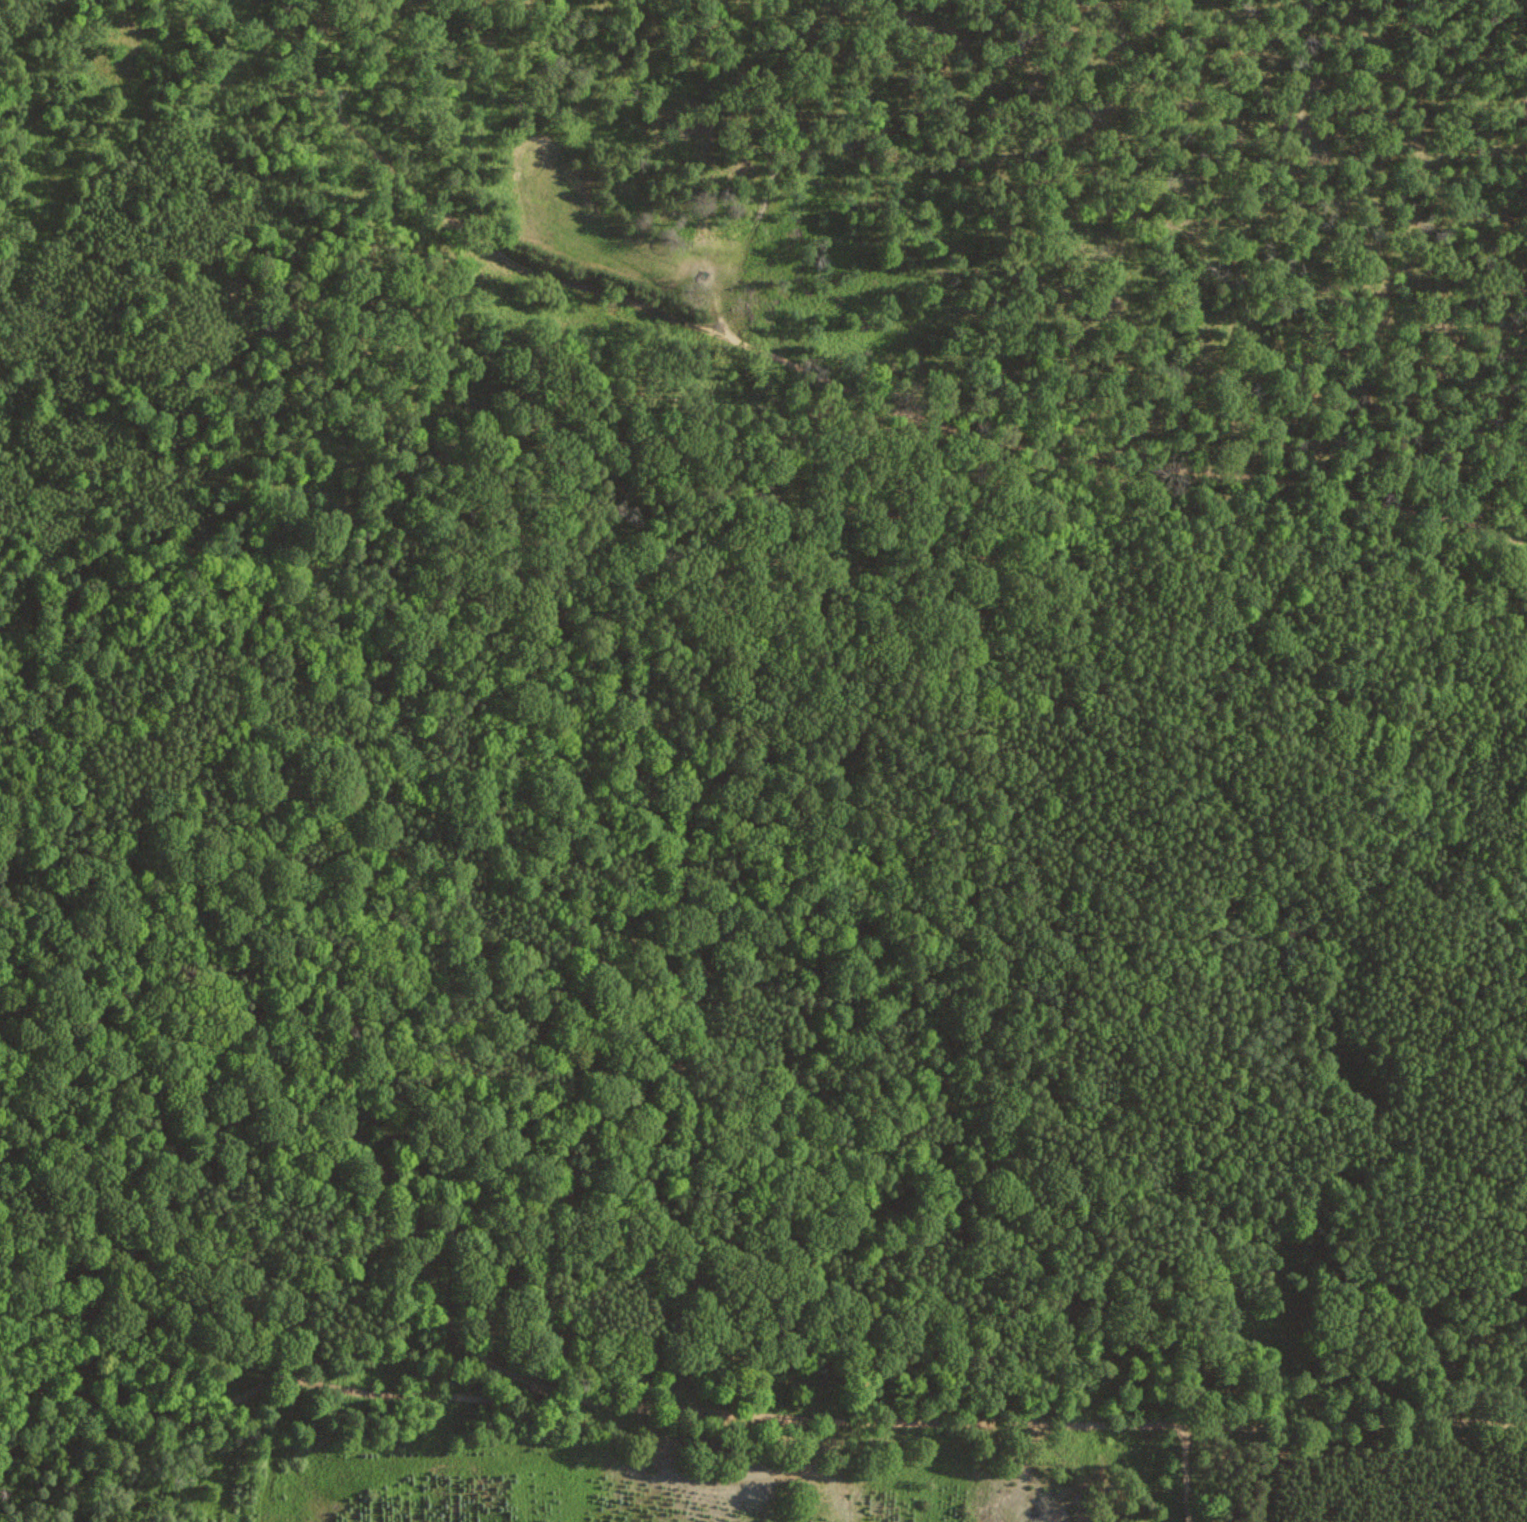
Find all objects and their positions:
road: (841, 385)
road: (103, 1343)
road: (276, 1382)
road: (677, 1409)
road: (1187, 1473)

